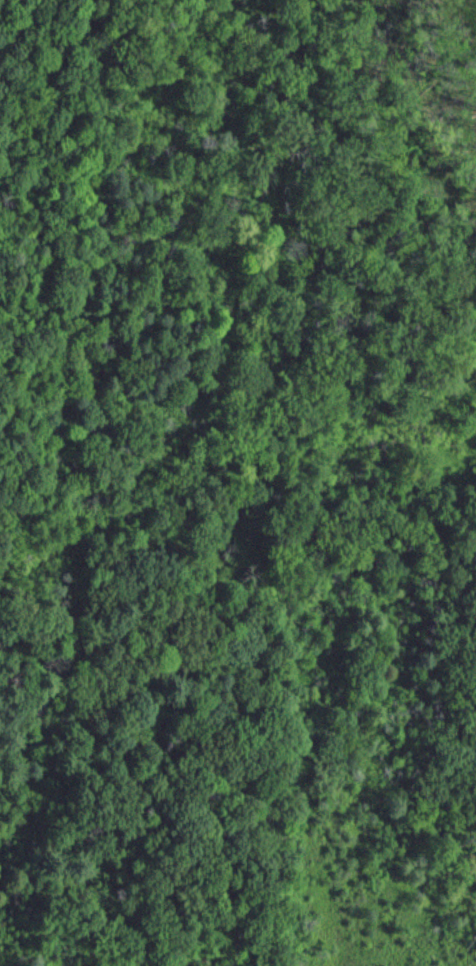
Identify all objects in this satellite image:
road: (238, 508)

